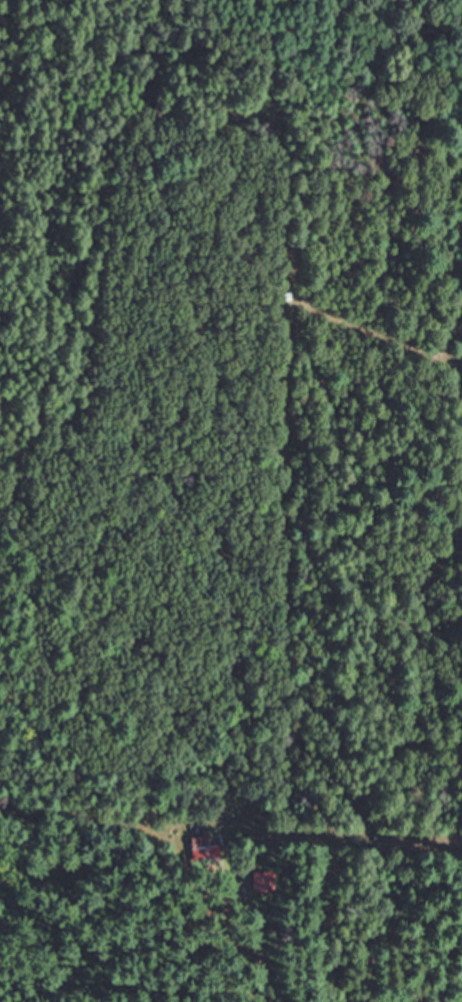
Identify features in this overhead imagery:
building: (197, 847)

